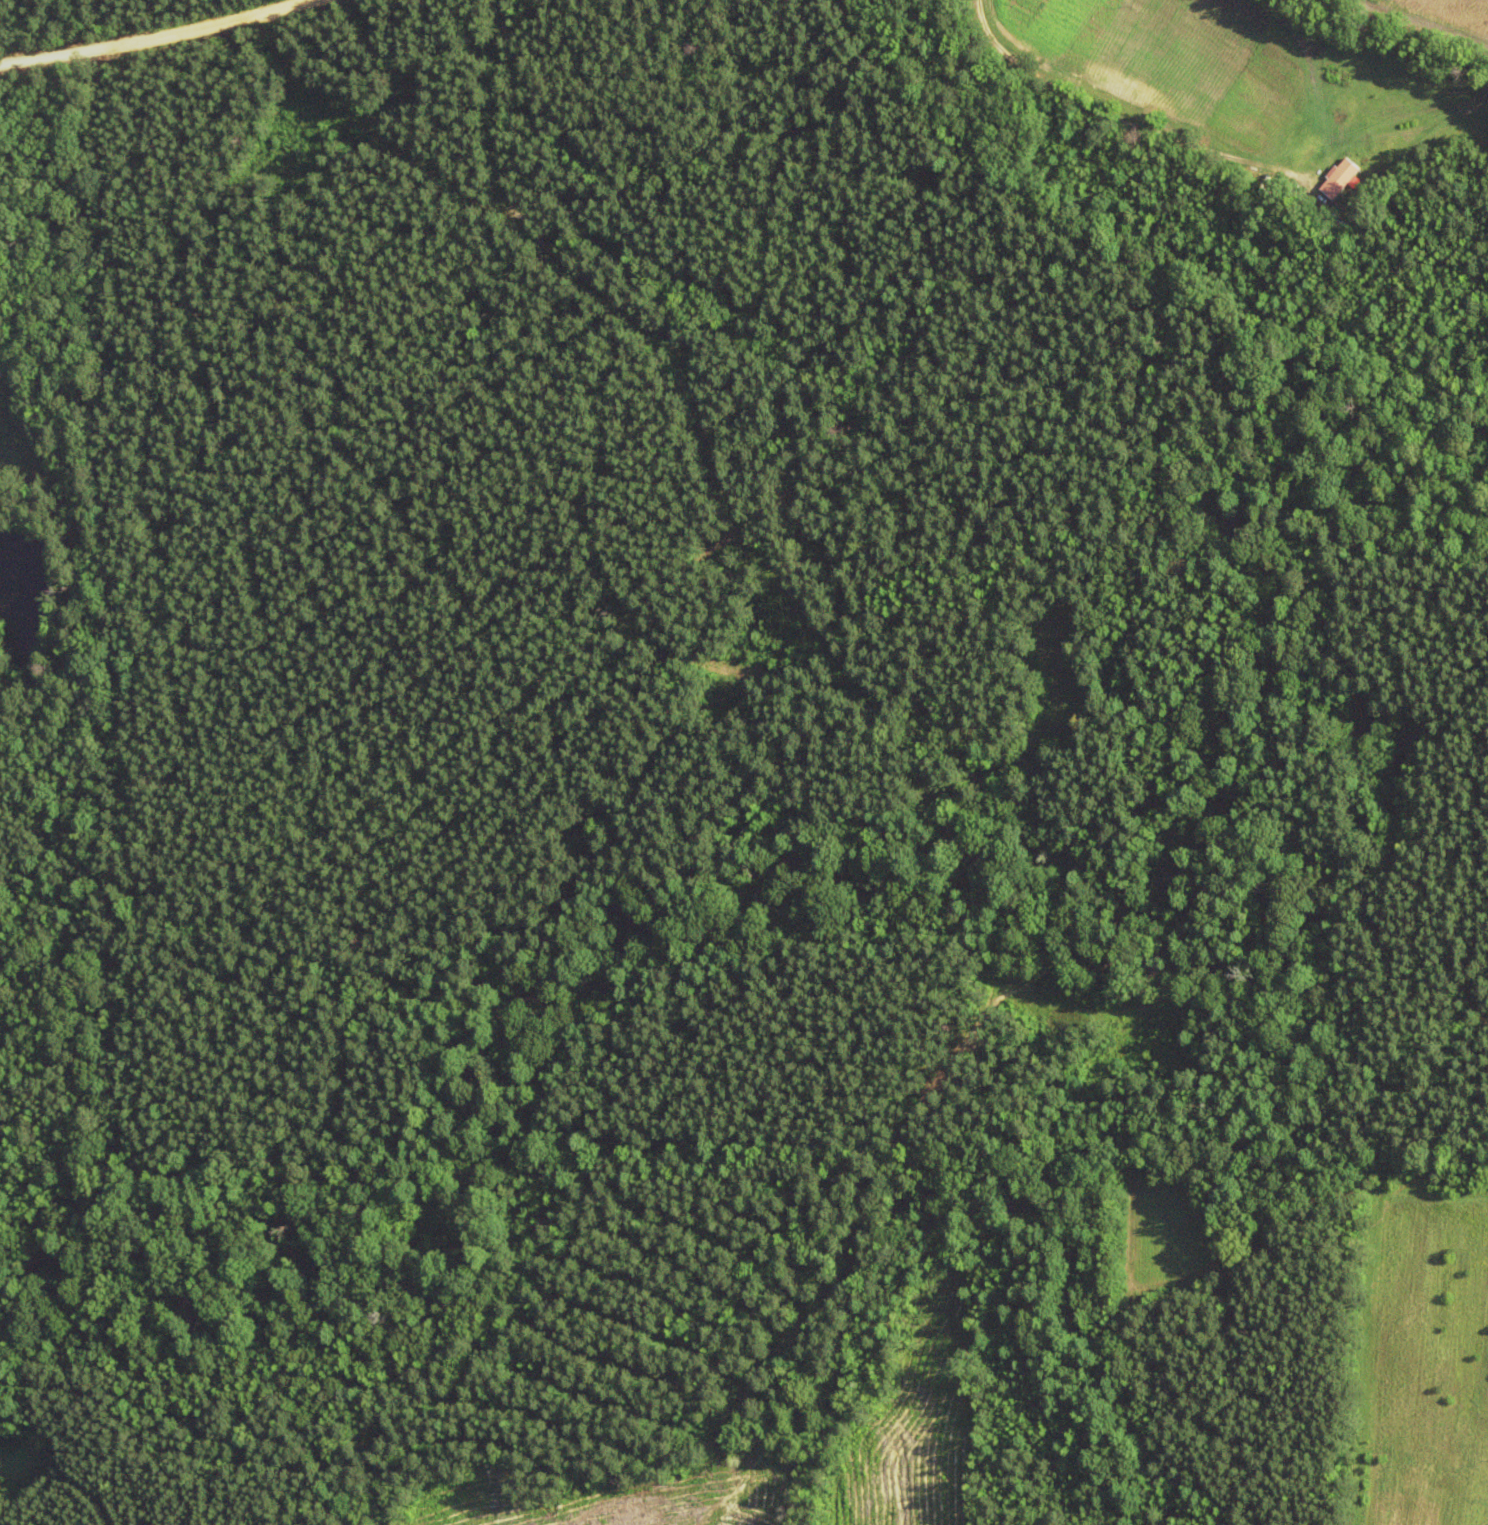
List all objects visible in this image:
road: (157, 37)

